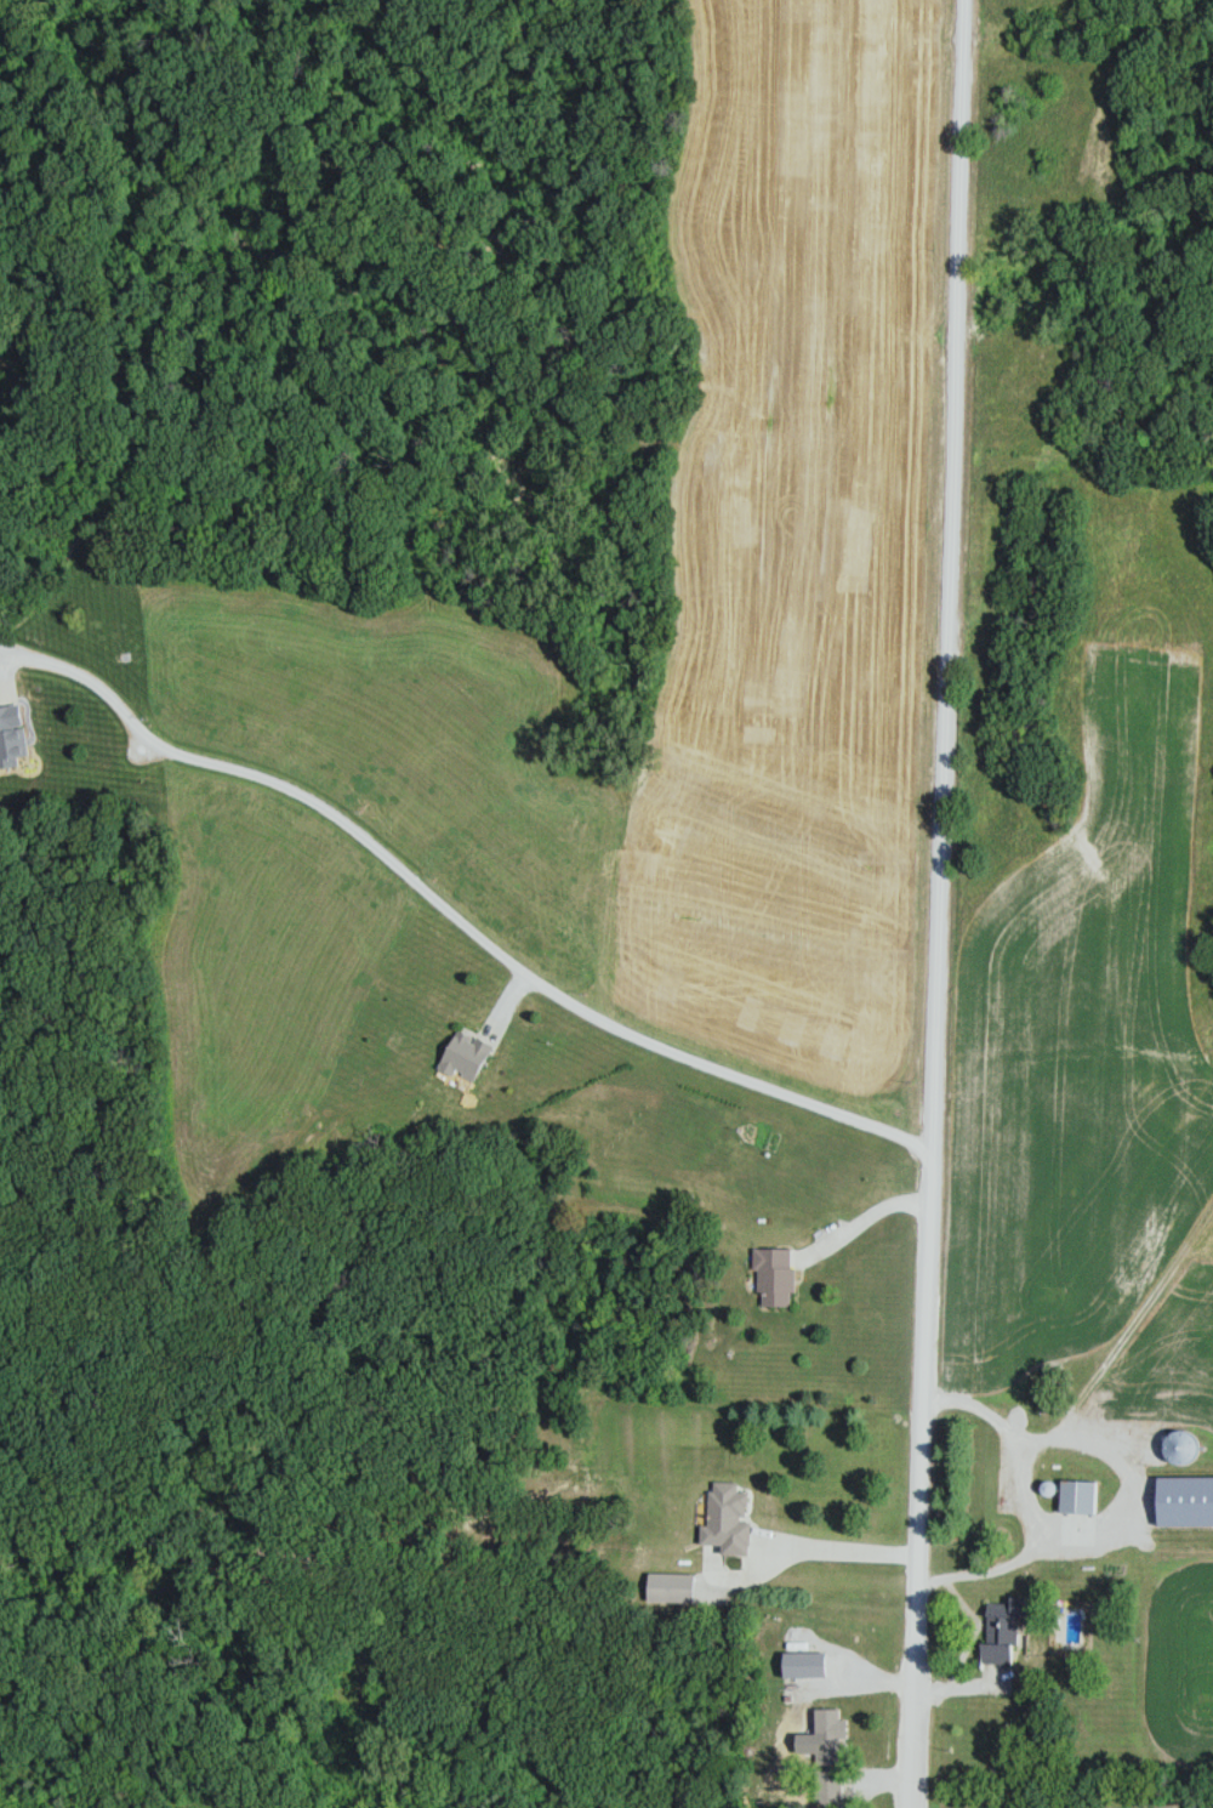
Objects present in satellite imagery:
road: (97, 683)
building: (12, 737)
road: (938, 903)
road: (533, 983)
crop: (1084, 1047)
building: (467, 1059)
road: (862, 1221)
building: (778, 1278)
crop: (1178, 1340)
building: (1185, 1448)
road: (1015, 1466)
building: (1081, 1497)
building: (1188, 1501)
building: (730, 1519)
road: (809, 1551)
building: (673, 1587)
building: (1006, 1630)
crop: (1178, 1665)
building: (832, 1756)
building: (1200, 1804)

